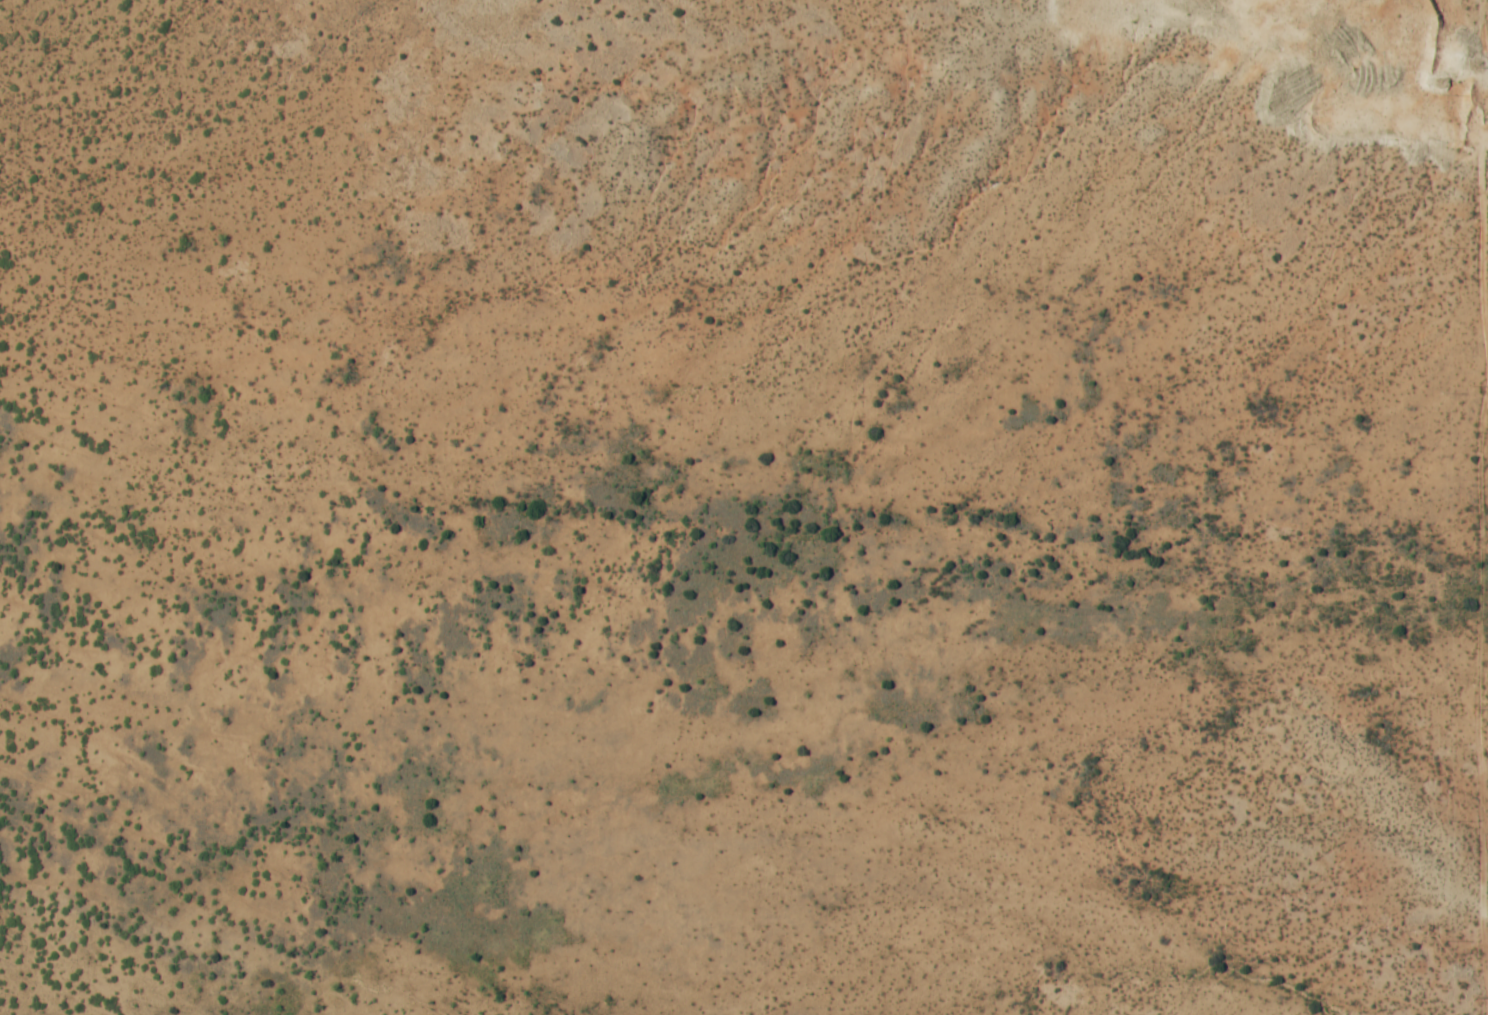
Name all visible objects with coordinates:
road: (1389, 29)
power tower: (1474, 67)
power tower: (1482, 386)
power tower: (1481, 710)
power tower: (1484, 995)

